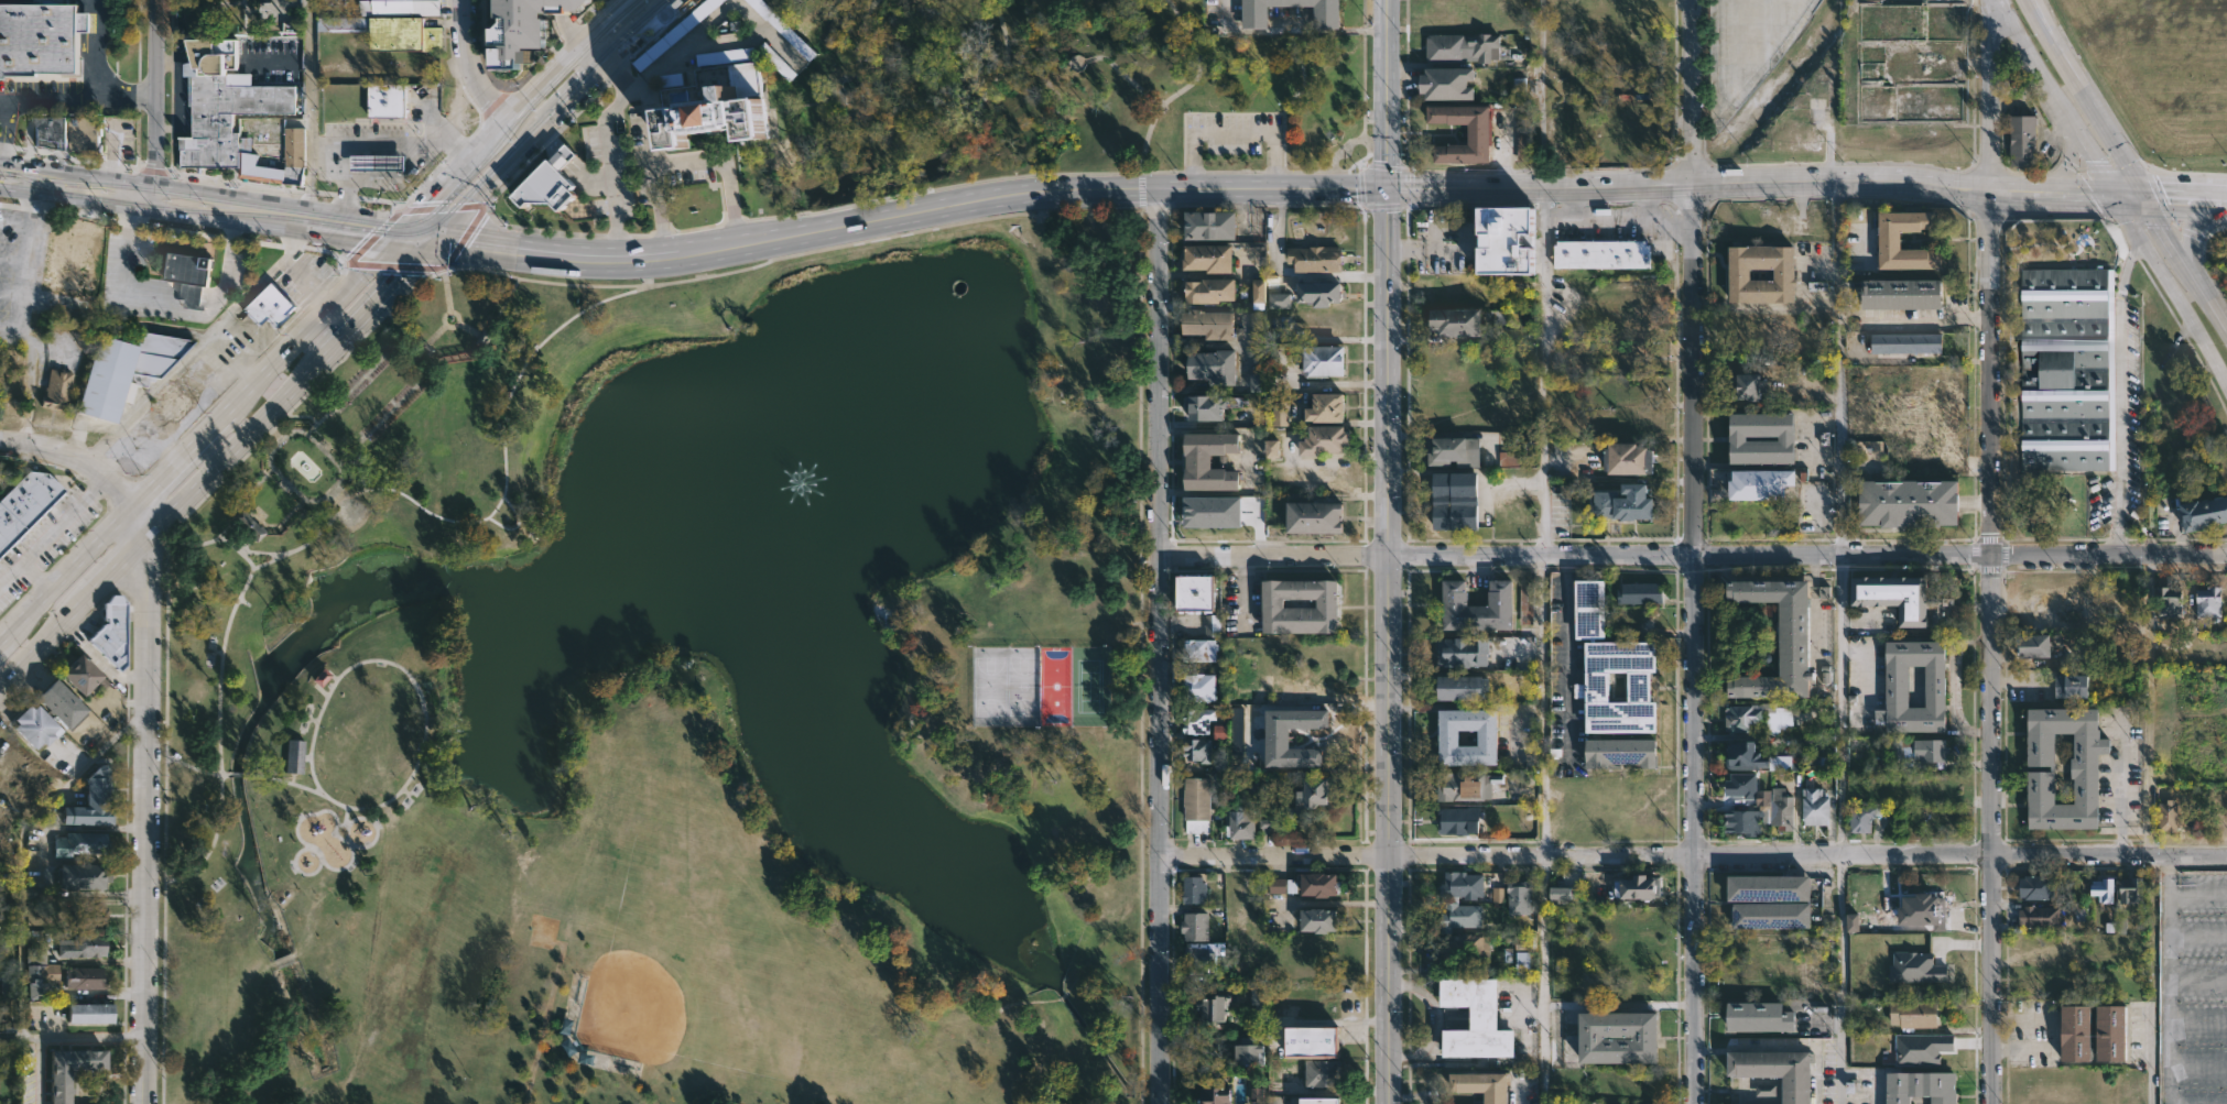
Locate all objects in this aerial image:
road: (2035, 10)
building: (1253, 15)
building: (691, 20)
road: (606, 21)
building: (393, 24)
building: (525, 29)
road: (639, 29)
building: (782, 29)
road: (1289, 30)
building: (41, 41)
road: (715, 42)
building: (1462, 45)
road: (595, 53)
road: (1748, 53)
building: (775, 61)
road: (474, 63)
road: (1362, 66)
road: (98, 75)
road: (620, 75)
road: (545, 80)
building: (1445, 81)
road: (585, 84)
road: (1182, 87)
building: (1518, 88)
road: (1541, 92)
park: (1055, 95)
road: (1984, 95)
building: (710, 97)
road: (2053, 97)
road: (2085, 97)
building: (390, 99)
road: (308, 101)
road: (36, 102)
road: (3, 106)
road: (154, 107)
building: (246, 109)
road: (932, 114)
road: (652, 125)
building: (69, 131)
building: (1475, 131)
building: (1523, 138)
building: (2019, 139)
road: (391, 142)
road: (1343, 149)
road: (2070, 159)
building: (374, 163)
gas station: (374, 163)
road: (686, 165)
road: (335, 166)
road: (608, 168)
road: (1383, 168)
road: (458, 170)
road: (502, 170)
road: (1359, 170)
road: (1270, 171)
railway: (0, 178)
road: (384, 178)
road: (34, 181)
building: (561, 182)
railway: (37, 184)
road: (1569, 185)
road: (1405, 187)
road: (1362, 188)
traffic signals: (1386, 188)
road: (205, 190)
road: (2064, 190)
traffic signals: (2110, 193)
road: (1141, 194)
traffic signals: (2144, 194)
road: (2185, 196)
traffic signals: (476, 198)
road: (1383, 207)
road: (420, 208)
road: (149, 211)
traffic signals: (389, 217)
railway: (363, 221)
building: (1208, 223)
road: (2187, 226)
road: (425, 228)
railway: (377, 230)
road: (401, 232)
road: (345, 234)
road: (797, 236)
road: (416, 239)
building: (1888, 239)
traffic signals: (469, 240)
building: (1508, 240)
road: (1463, 250)
building: (1601, 253)
building: (1205, 256)
building: (1314, 258)
building: (74, 259)
road: (126, 259)
road: (2185, 263)
traffic signals: (363, 272)
building: (1782, 272)
building: (194, 276)
road: (267, 276)
road: (1292, 276)
road: (1387, 277)
building: (1817, 286)
road: (2170, 287)
building: (1207, 289)
road: (381, 291)
building: (1317, 293)
building: (1901, 293)
building: (1268, 294)
building: (274, 302)
road: (1769, 307)
road: (213, 308)
building: (1454, 321)
road: (1923, 321)
building: (1205, 324)
road: (471, 331)
building: (1905, 342)
road: (351, 350)
building: (1322, 360)
building: (1212, 367)
road: (1839, 367)
building: (2067, 369)
building: (123, 371)
road: (1542, 371)
road: (1985, 371)
road: (264, 378)
building: (1258, 382)
building: (1747, 385)
building: (56, 390)
road: (2121, 396)
building: (172, 401)
building: (1202, 407)
building: (1323, 407)
building: (1281, 413)
building: (1883, 415)
building: (1736, 438)
building: (1322, 440)
road: (233, 442)
building: (1272, 449)
building: (1453, 450)
fountain: (780, 455)
building: (1521, 455)
road: (75, 456)
building: (1626, 458)
road: (502, 459)
building: (1206, 460)
road: (343, 466)
road: (283, 483)
building: (1759, 483)
building: (1453, 499)
building: (1906, 502)
building: (1622, 503)
building: (25, 504)
building: (1214, 512)
building: (2203, 513)
building: (1311, 516)
road: (137, 521)
building: (248, 523)
road: (514, 525)
road: (53, 531)
road: (1692, 551)
road: (265, 554)
road: (2107, 554)
road: (1686, 555)
road: (1272, 556)
road: (36, 579)
road: (65, 579)
building: (1195, 592)
building: (1639, 592)
building: (1824, 592)
building: (1905, 601)
building: (2208, 601)
building: (2169, 602)
building: (1325, 603)
building: (1527, 603)
building: (1475, 606)
building: (1587, 609)
road: (70, 612)
building: (1212, 625)
building: (113, 631)
building: (1793, 638)
road: (1159, 645)
building: (2034, 646)
building: (1198, 651)
building: (1462, 653)
road: (1568, 658)
road: (1139, 660)
building: (83, 674)
road: (1864, 678)
road: (220, 684)
park: (1006, 686)
park: (1075, 686)
building: (1596, 687)
building: (1895, 687)
building: (2072, 687)
building: (1197, 688)
building: (1462, 688)
park: (682, 699)
building: (62, 703)
road: (2149, 706)
road: (1319, 707)
road: (1542, 708)
road: (422, 712)
building: (1741, 719)
building: (1198, 720)
building: (36, 726)
building: (1236, 729)
building: (1221, 731)
building: (1274, 739)
building: (1486, 739)
building: (1925, 750)
building: (1194, 752)
building: (1618, 753)
building: (67, 756)
building: (294, 756)
building: (1745, 757)
road: (184, 765)
building: (2041, 768)
road: (237, 774)
building: (3, 784)
building: (1464, 786)
building: (1740, 786)
road: (2121, 789)
building: (1311, 799)
building: (93, 801)
building: (1196, 805)
building: (1814, 807)
building: (1779, 809)
building: (2168, 817)
building: (1860, 818)
road: (143, 819)
building: (1457, 821)
building: (1742, 822)
building: (1240, 824)
road: (376, 826)
building: (1268, 827)
road: (1995, 828)
road: (1386, 829)
road: (1842, 829)
building: (80, 842)
road: (308, 846)
road: (1693, 860)
road: (297, 868)
building: (86, 875)
building: (1315, 882)
building: (1460, 883)
building: (1283, 885)
building: (1639, 885)
building: (1767, 885)
building: (2036, 885)
building: (2131, 887)
building: (1192, 888)
building: (2104, 888)
building: (1562, 892)
building: (1497, 895)
road: (2197, 895)
building: (1519, 896)
building: (1922, 910)
building: (1769, 914)
building: (2039, 915)
building: (1457, 916)
building: (88, 917)
building: (8, 919)
building: (1319, 919)
building: (1853, 922)
building: (1194, 925)
road: (2197, 934)
building: (85, 944)
building: (1465, 947)
building: (1522, 951)
building: (1199, 958)
road: (282, 960)
road: (374, 965)
building: (1916, 968)
road: (2197, 977)
building: (85, 979)
road: (2168, 980)
road: (1543, 981)
building: (39, 982)
building: (1258, 998)
park: (631, 1005)
building: (1214, 1005)
building: (1913, 1013)
building: (91, 1014)
building: (1758, 1016)
building: (1473, 1017)
road: (2197, 1018)
road: (2025, 1019)
road: (544, 1023)
building: (2076, 1031)
building: (2110, 1031)
building: (1616, 1035)
road: (69, 1036)
building: (1307, 1041)
building: (1922, 1048)
building: (1247, 1049)
road: (2027, 1050)
road: (2148, 1057)
road: (2197, 1064)
road: (40, 1070)
building: (74, 1070)
building: (1777, 1070)
building: (1322, 1072)
building: (1479, 1084)
building: (1921, 1085)
building: (1213, 1094)
building: (1258, 1094)
building: (1316, 1100)
building: (1605, 1103)

